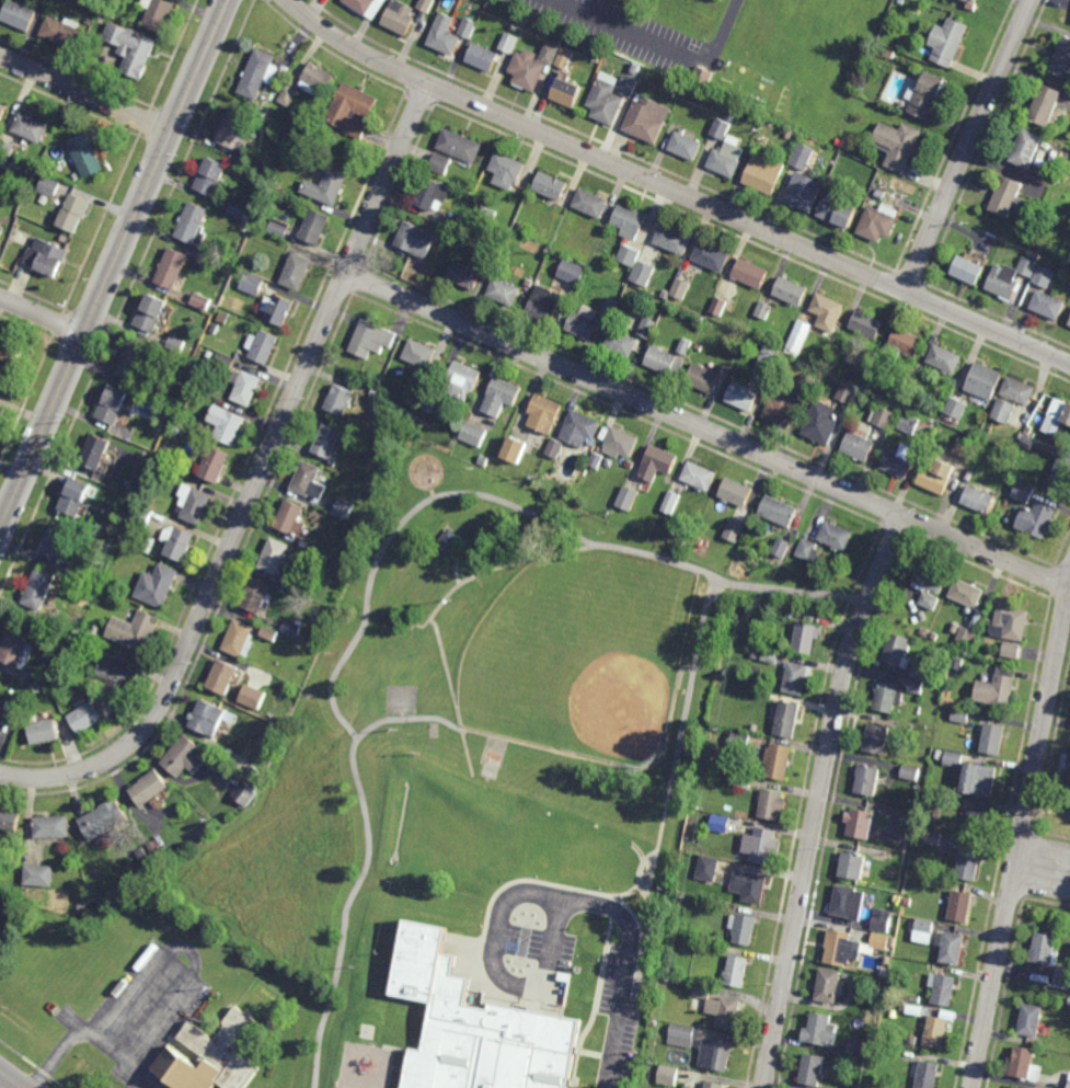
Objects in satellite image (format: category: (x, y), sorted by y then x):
building: (970, 1)
building: (426, 5)
building: (368, 7)
building: (157, 13)
building: (21, 14)
building: (400, 19)
building: (89, 21)
building: (469, 27)
building: (62, 32)
building: (445, 36)
building: (948, 42)
building: (508, 43)
road: (659, 45)
building: (130, 48)
building: (564, 58)
building: (483, 59)
building: (1063, 59)
building: (528, 70)
building: (260, 75)
building: (318, 81)
building: (628, 87)
road: (87, 93)
building: (567, 94)
building: (288, 95)
building: (928, 95)
building: (606, 101)
building: (1047, 105)
building: (3, 112)
building: (353, 112)
building: (647, 119)
building: (34, 127)
building: (721, 128)
building: (233, 129)
building: (899, 145)
road: (968, 145)
building: (460, 147)
building: (684, 147)
building: (8, 149)
building: (1028, 149)
building: (84, 156)
building: (802, 156)
building: (728, 158)
building: (440, 164)
building: (506, 172)
building: (766, 175)
building: (76, 176)
building: (211, 177)
building: (51, 186)
building: (552, 187)
building: (327, 188)
road: (675, 190)
building: (804, 193)
building: (433, 196)
building: (1006, 197)
building: (591, 205)
building: (240, 207)
building: (72, 214)
building: (838, 214)
building: (629, 222)
building: (194, 224)
building: (878, 224)
building: (279, 227)
building: (317, 229)
building: (2, 233)
building: (675, 240)
building: (417, 241)
building: (47, 257)
building: (712, 257)
building: (636, 265)
road: (114, 268)
building: (174, 270)
building: (968, 271)
building: (572, 272)
building: (297, 274)
building: (467, 275)
building: (751, 275)
building: (1043, 276)
building: (253, 284)
building: (1001, 285)
building: (680, 288)
building: (790, 291)
building: (505, 294)
building: (203, 301)
building: (545, 304)
building: (1048, 305)
building: (717, 306)
building: (279, 310)
building: (762, 310)
building: (828, 312)
road: (43, 314)
building: (153, 316)
building: (584, 324)
building: (1069, 324)
building: (867, 325)
building: (646, 328)
building: (798, 336)
building: (372, 340)
building: (909, 343)
building: (621, 344)
building: (263, 346)
building: (684, 346)
building: (11, 352)
building: (421, 355)
building: (769, 358)
building: (945, 359)
building: (135, 362)
building: (664, 363)
building: (228, 366)
building: (703, 379)
building: (462, 382)
building: (983, 382)
building: (248, 389)
building: (1019, 391)
building: (844, 393)
building: (501, 397)
building: (743, 398)
building: (340, 402)
building: (114, 406)
building: (783, 408)
building: (955, 408)
building: (1, 410)
building: (1002, 411)
building: (544, 414)
building: (883, 416)
building: (1068, 417)
building: (821, 424)
building: (908, 424)
building: (228, 426)
building: (579, 430)
road: (707, 430)
building: (473, 434)
building: (329, 444)
building: (621, 444)
building: (860, 444)
building: (962, 446)
building: (554, 448)
building: (515, 449)
building: (96, 454)
building: (596, 460)
building: (900, 461)
building: (658, 463)
building: (216, 467)
building: (1062, 472)
building: (700, 477)
building: (939, 477)
road: (258, 482)
building: (309, 482)
building: (1023, 491)
building: (736, 493)
building: (77, 497)
building: (626, 497)
building: (979, 501)
building: (670, 502)
building: (194, 505)
building: (344, 508)
building: (779, 512)
building: (291, 519)
building: (1038, 520)
building: (733, 531)
building: (837, 537)
building: (448, 540)
building: (58, 542)
building: (181, 546)
building: (781, 548)
building: (809, 551)
building: (275, 558)
road: (375, 570)
road: (456, 570)
building: (930, 580)
building: (158, 586)
road: (1069, 586)
building: (41, 589)
building: (967, 594)
building: (257, 596)
building: (929, 600)
road: (441, 607)
building: (1012, 621)
building: (135, 631)
building: (268, 633)
building: (805, 639)
building: (239, 640)
building: (19, 648)
building: (1011, 650)
building: (897, 652)
building: (770, 656)
park: (580, 657)
building: (918, 673)
building: (117, 678)
building: (223, 678)
building: (797, 679)
building: (916, 686)
building: (997, 692)
building: (252, 697)
building: (887, 697)
building: (0, 701)
building: (1, 705)
building: (960, 715)
building: (87, 719)
building: (209, 719)
building: (789, 721)
road: (464, 729)
park: (481, 729)
building: (45, 732)
building: (994, 740)
building: (879, 741)
building: (185, 758)
road: (677, 758)
building: (954, 758)
building: (780, 763)
building: (910, 772)
building: (981, 781)
building: (870, 782)
building: (1069, 787)
building: (150, 790)
building: (244, 793)
road: (821, 799)
building: (773, 806)
building: (9, 822)
building: (104, 822)
building: (721, 823)
building: (862, 826)
building: (977, 826)
building: (51, 828)
road: (1023, 835)
building: (762, 847)
park: (580, 849)
road: (1045, 864)
building: (969, 867)
building: (707, 868)
building: (854, 869)
building: (38, 875)
building: (750, 889)
building: (850, 904)
building: (960, 907)
building: (881, 921)
building: (744, 930)
building: (924, 930)
building: (879, 940)
road: (189, 951)
building: (844, 951)
building: (953, 951)
building: (1046, 951)
road: (179, 966)
road: (630, 969)
building: (231, 972)
building: (737, 973)
building: (1062, 976)
road: (503, 980)
building: (830, 988)
building: (944, 989)
building: (725, 1013)
building: (1032, 1021)
parking lot: (622, 1029)
building: (461, 1031)
building: (822, 1032)
building: (936, 1033)
building: (681, 1035)
road: (91, 1037)
building: (858, 1047)
building: (716, 1055)
building: (211, 1056)
building: (1024, 1065)
building: (814, 1072)
building: (668, 1075)
building: (927, 1075)
road: (2, 1079)
road: (9, 1080)
building: (1069, 1084)
building: (714, 1085)

